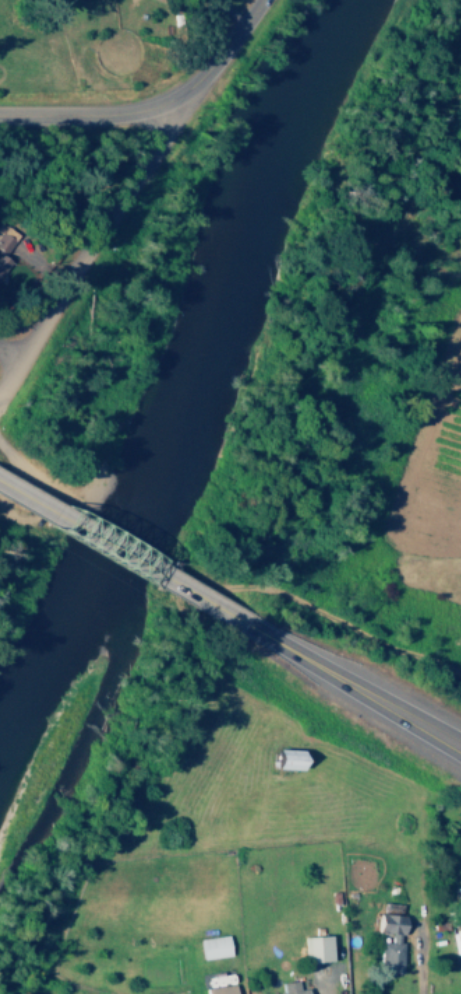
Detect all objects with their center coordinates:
road: (152, 106)
building: (2, 245)
building: (2, 263)
river: (205, 384)
road: (123, 555)
road: (354, 688)
building: (280, 758)
building: (387, 939)
building: (455, 940)
building: (210, 946)
building: (312, 948)
road: (423, 959)
building: (287, 988)
building: (217, 989)
road: (318, 990)

